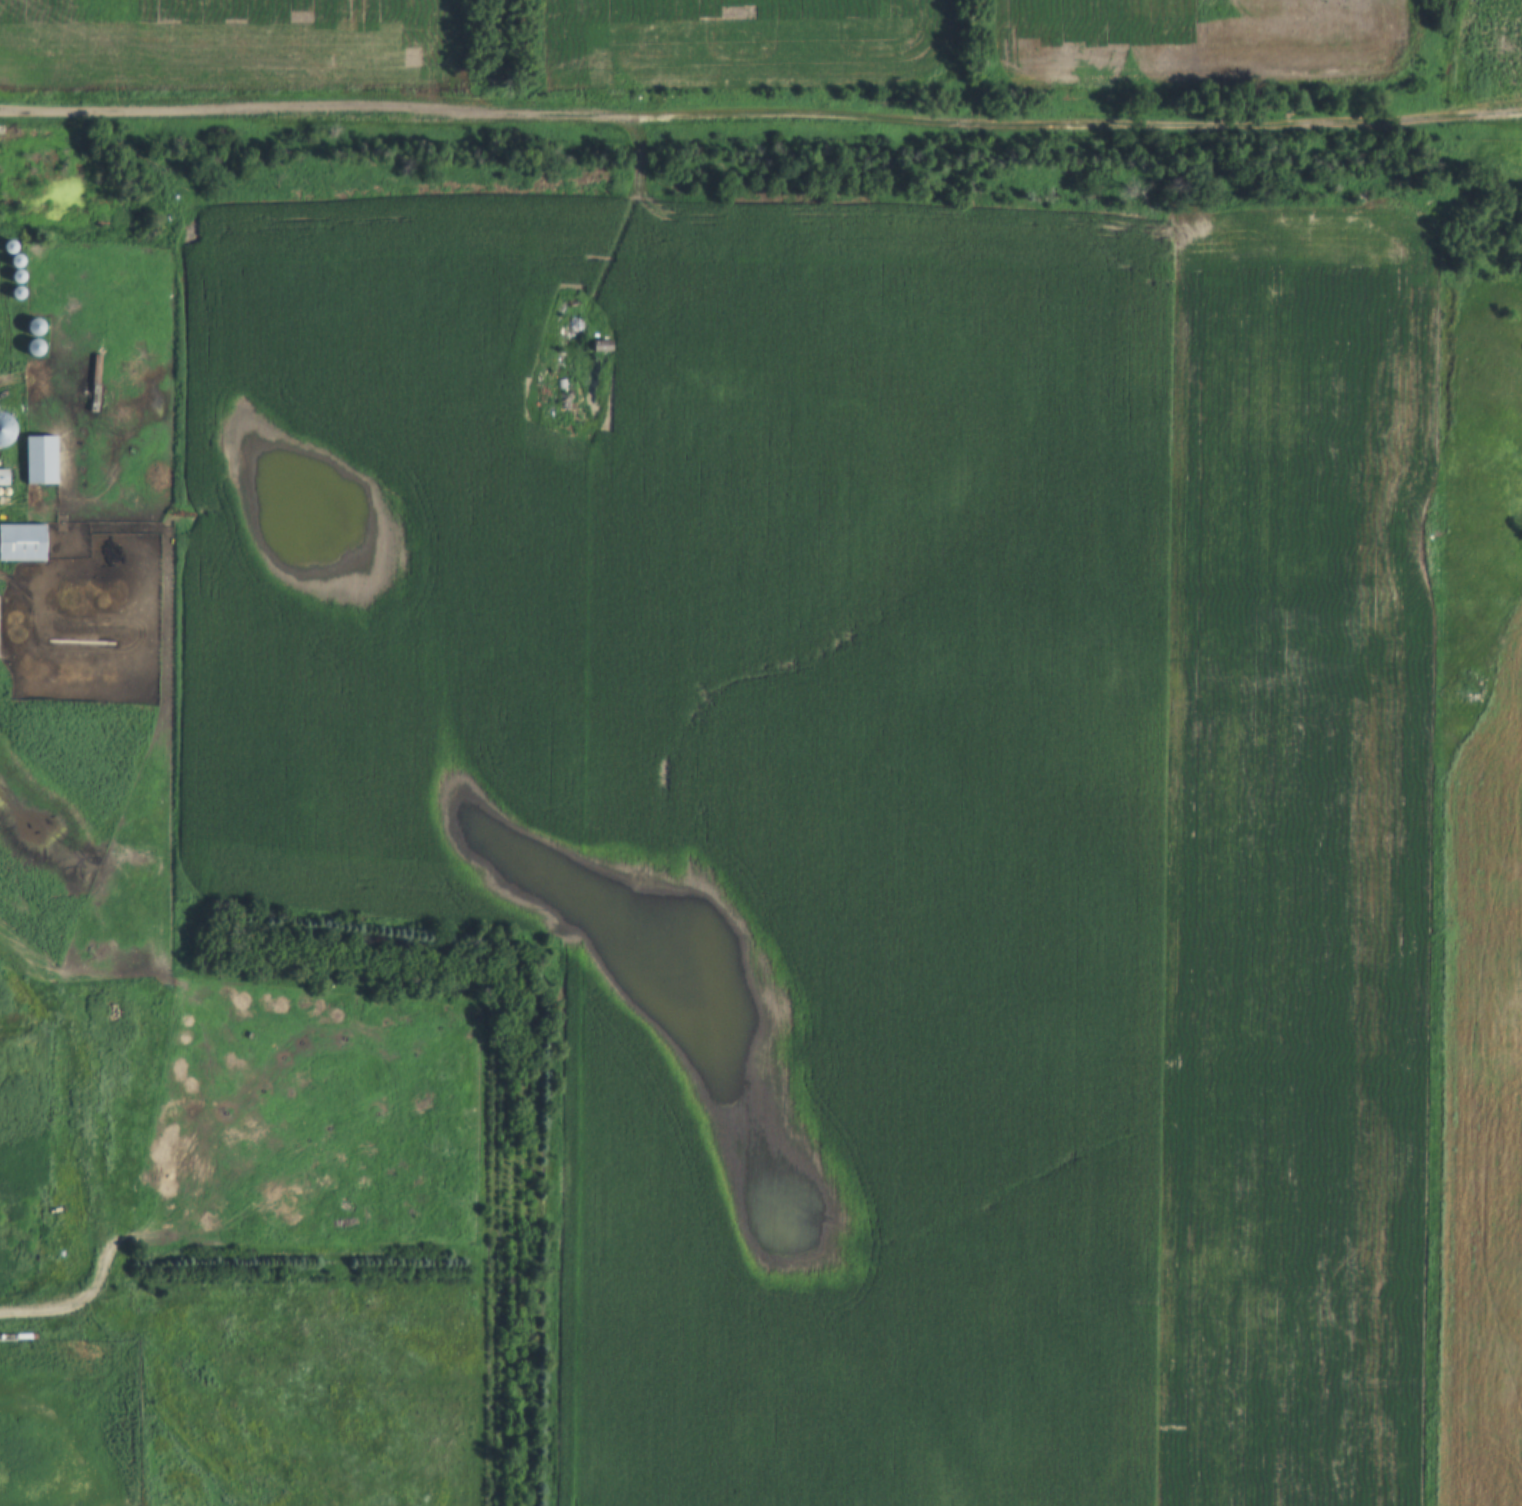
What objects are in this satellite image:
road: (500, 60)
road: (761, 124)
building: (15, 293)
building: (30, 327)
building: (600, 347)
building: (31, 348)
building: (2, 429)
building: (37, 461)
building: (2, 478)
building: (20, 544)

